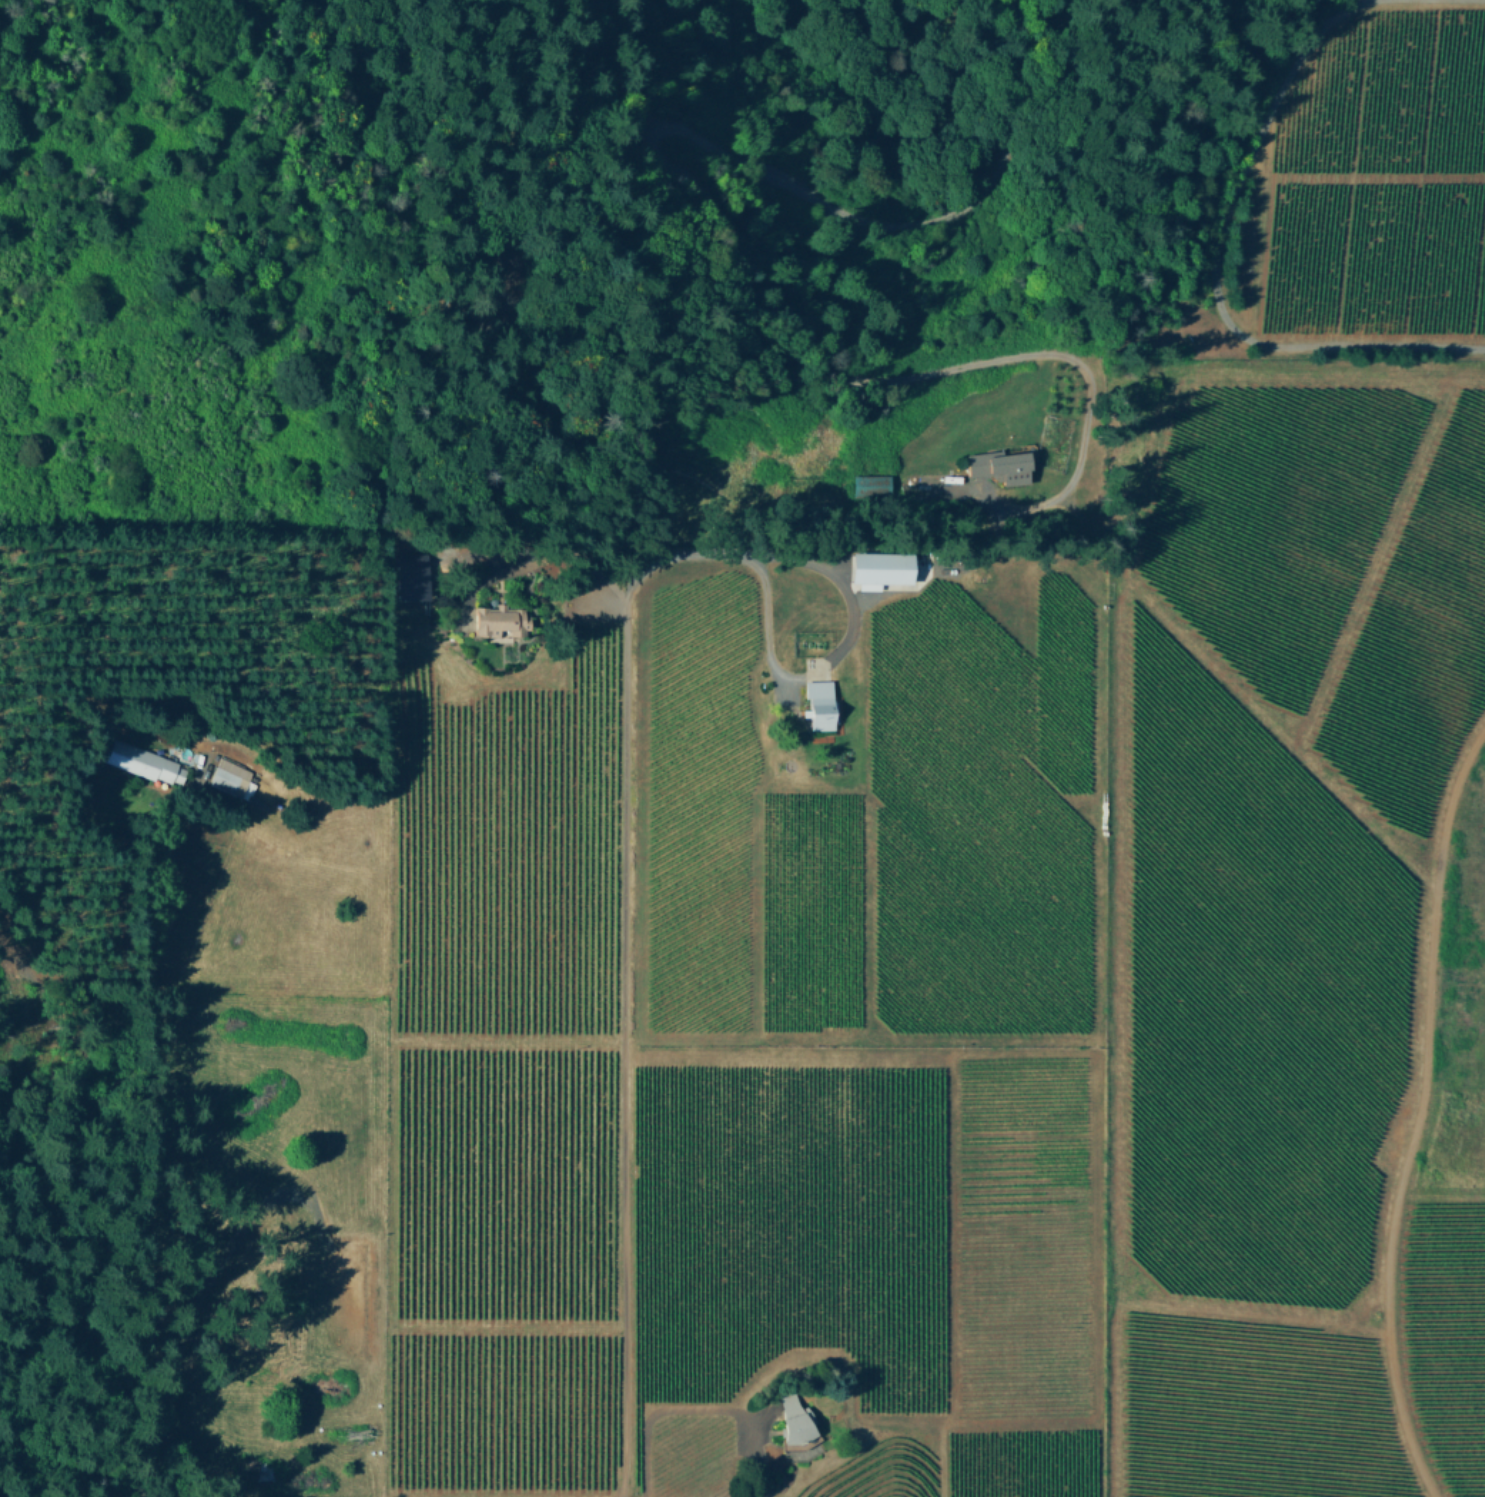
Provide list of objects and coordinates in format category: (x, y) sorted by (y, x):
road: (712, 215)
building: (999, 465)
building: (870, 484)
road: (851, 608)
building: (500, 620)
building: (820, 705)
building: (148, 761)
building: (232, 778)
road: (623, 971)
crop: (1449, 1212)
road: (148, 1246)
road: (702, 1410)
building: (795, 1418)

